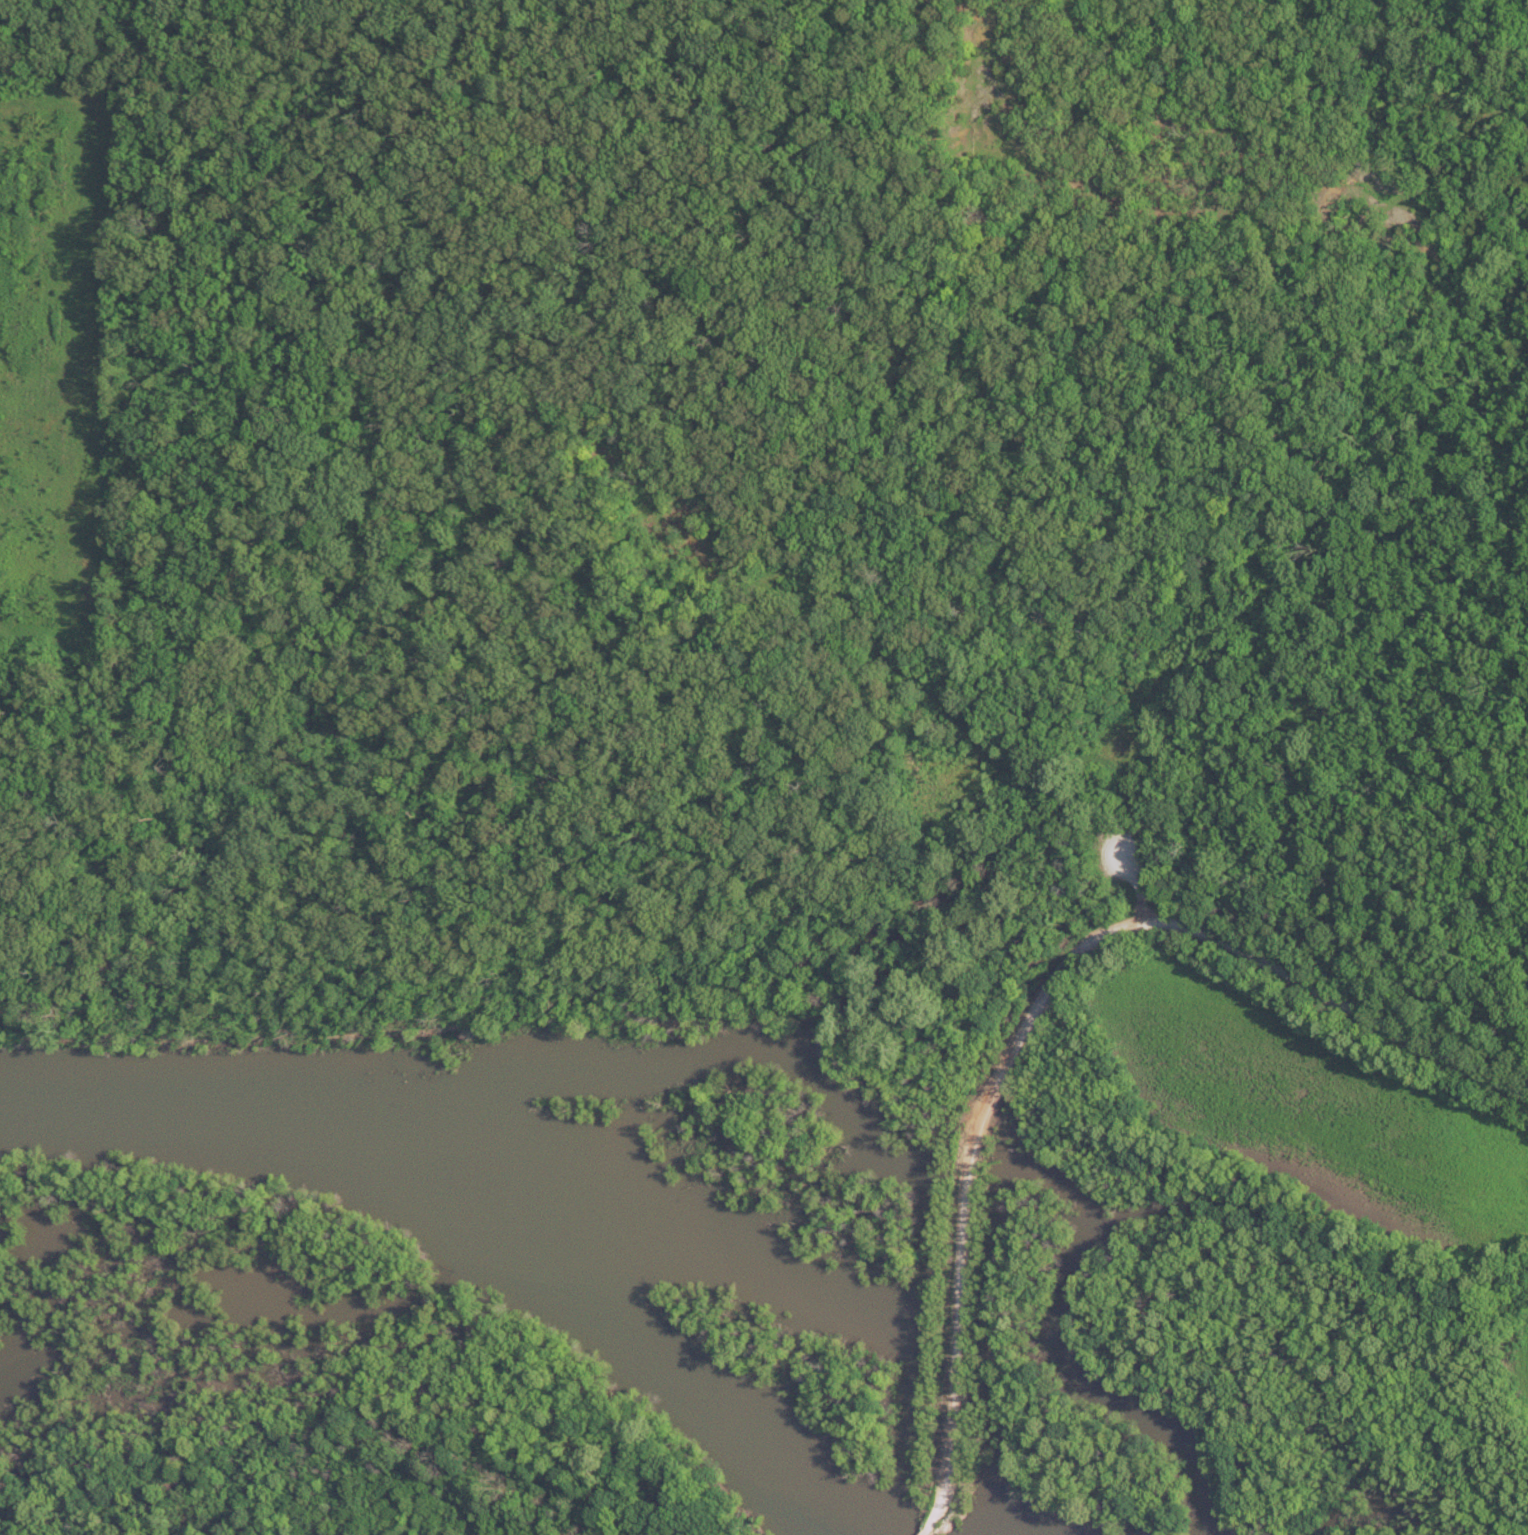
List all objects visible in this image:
road: (1048, 998)
river: (474, 1200)
road: (930, 1531)

